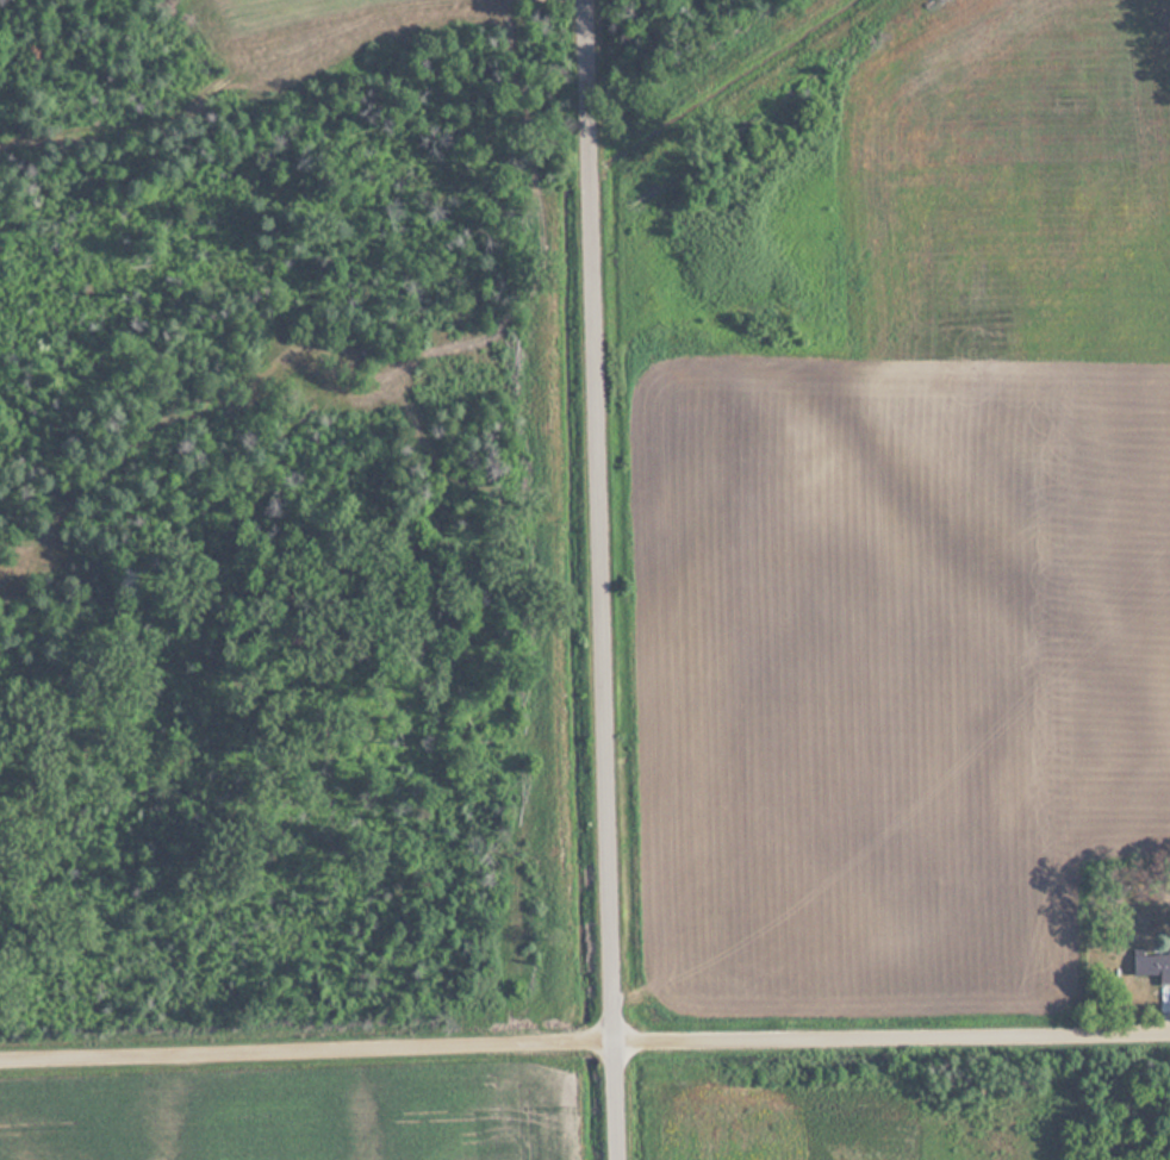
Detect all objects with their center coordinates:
road: (605, 580)
building: (1151, 967)
road: (584, 1047)

